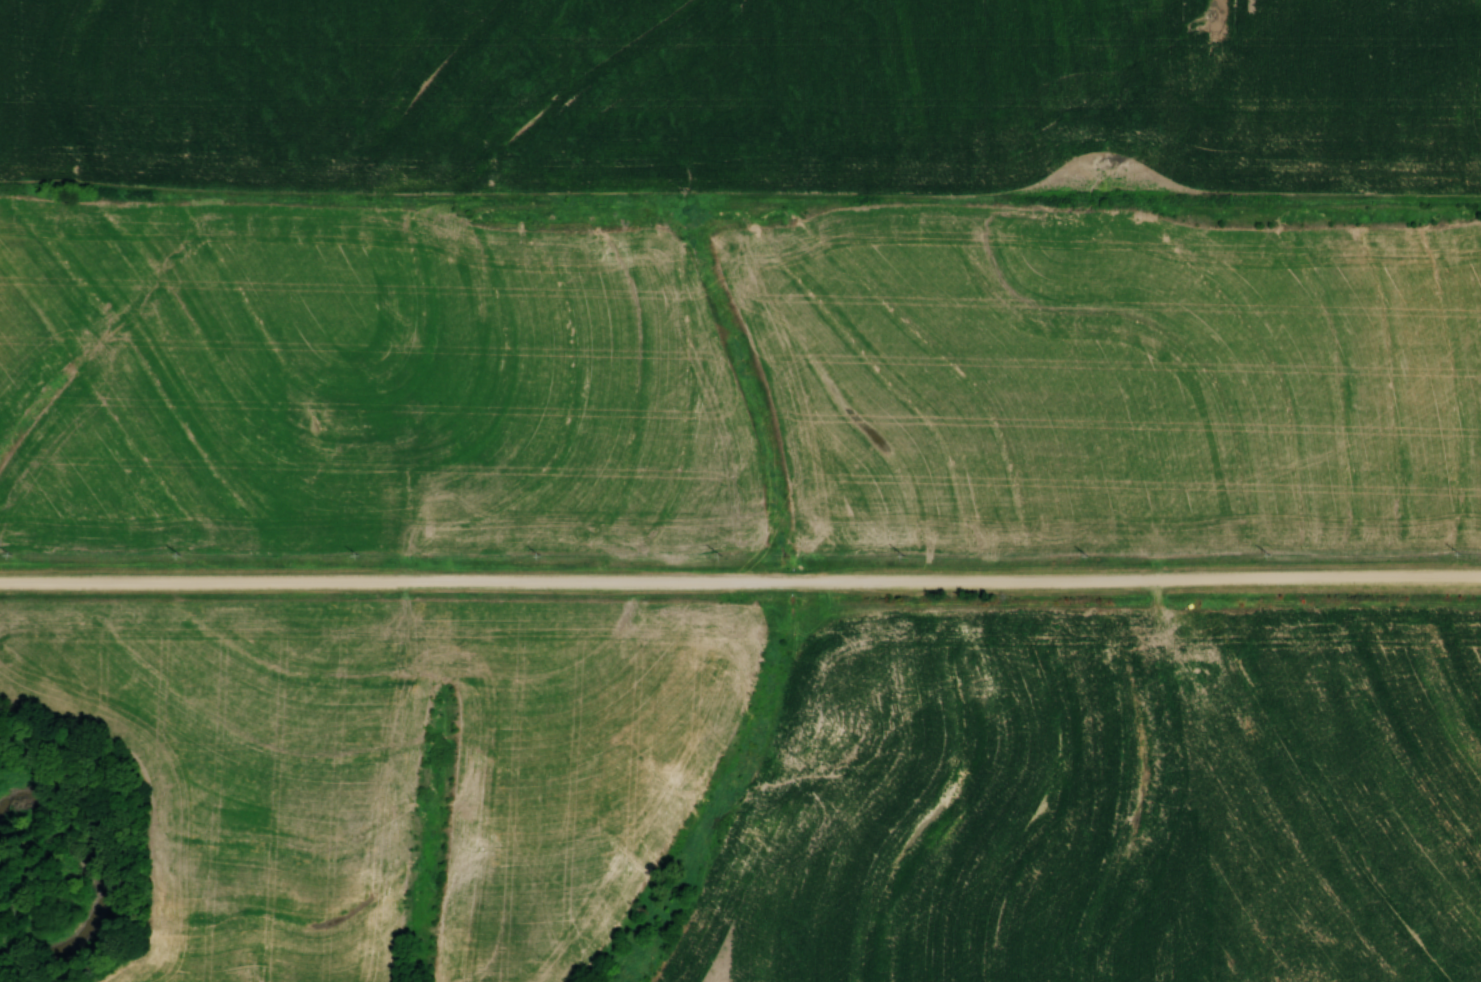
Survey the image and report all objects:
road: (740, 584)

